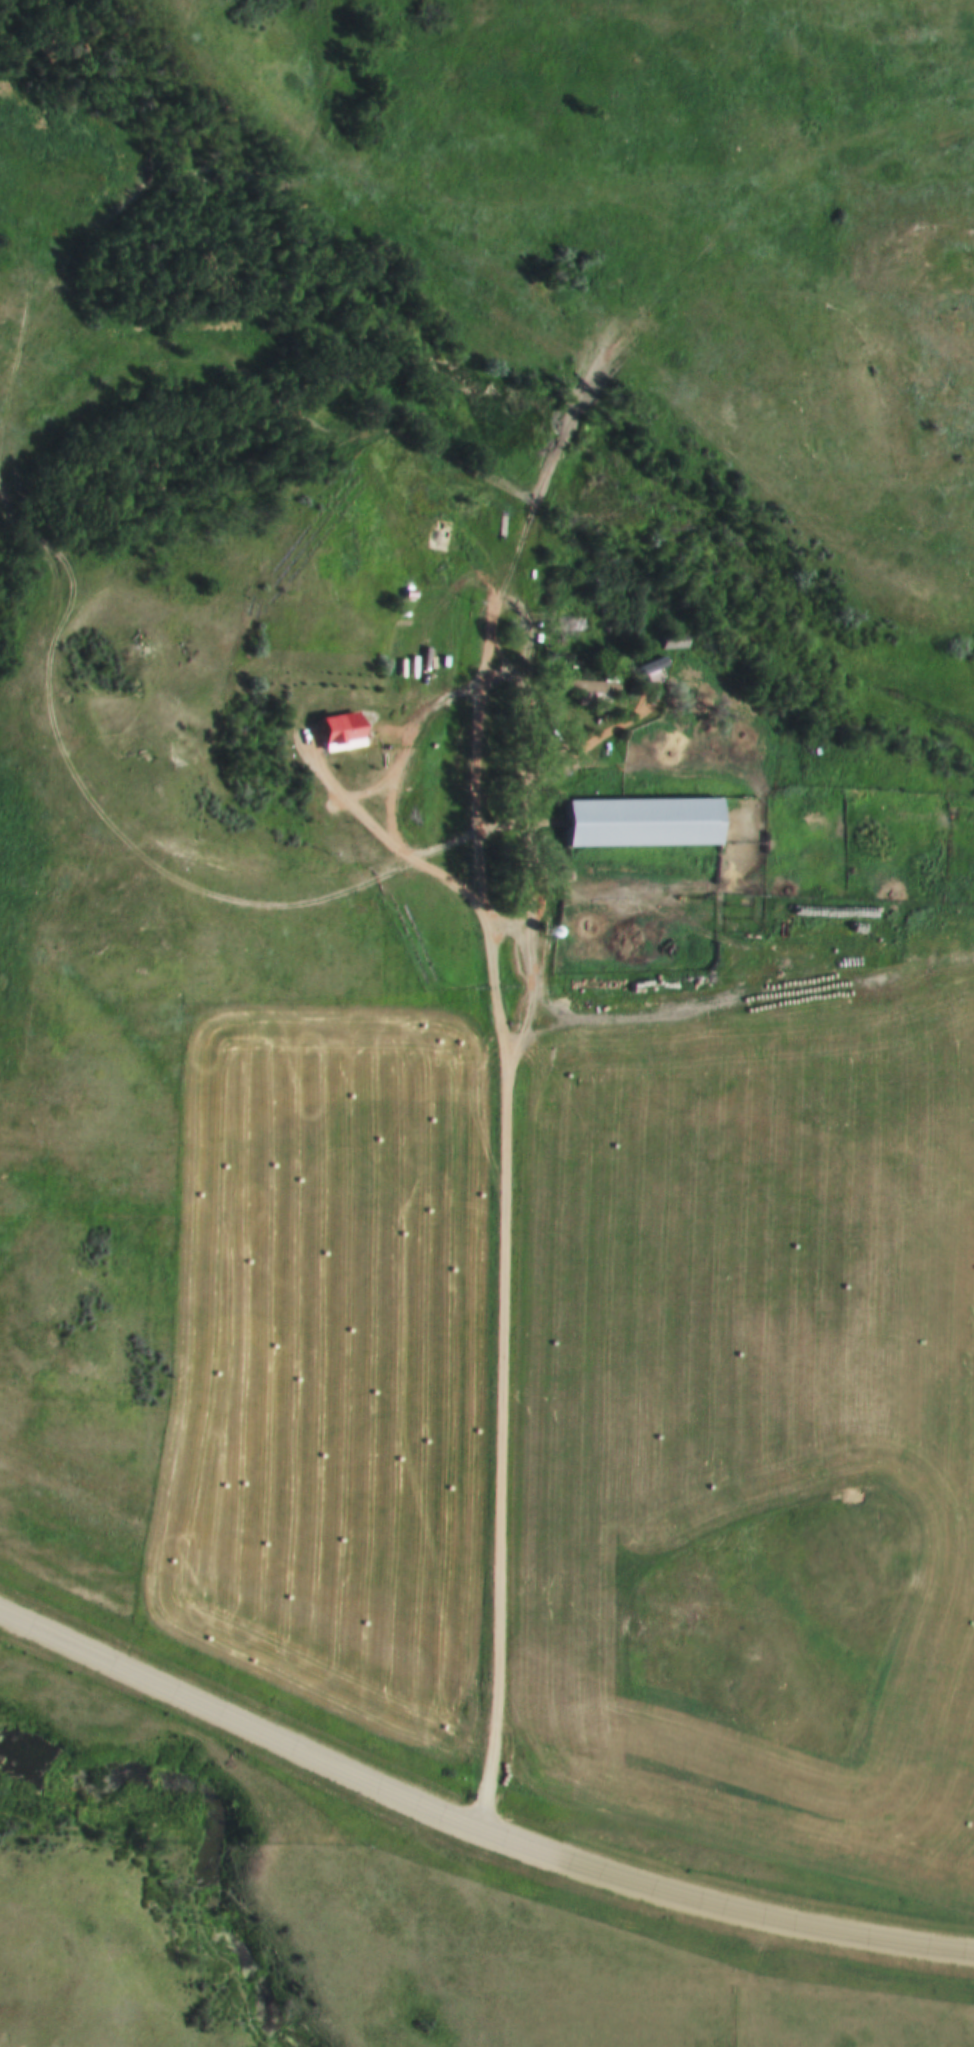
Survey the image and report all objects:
building: (419, 489)
building: (437, 534)
road: (46, 630)
building: (589, 687)
building: (333, 730)
building: (633, 821)
road: (539, 892)
road: (717, 966)
road: (499, 1237)
road: (470, 1829)

